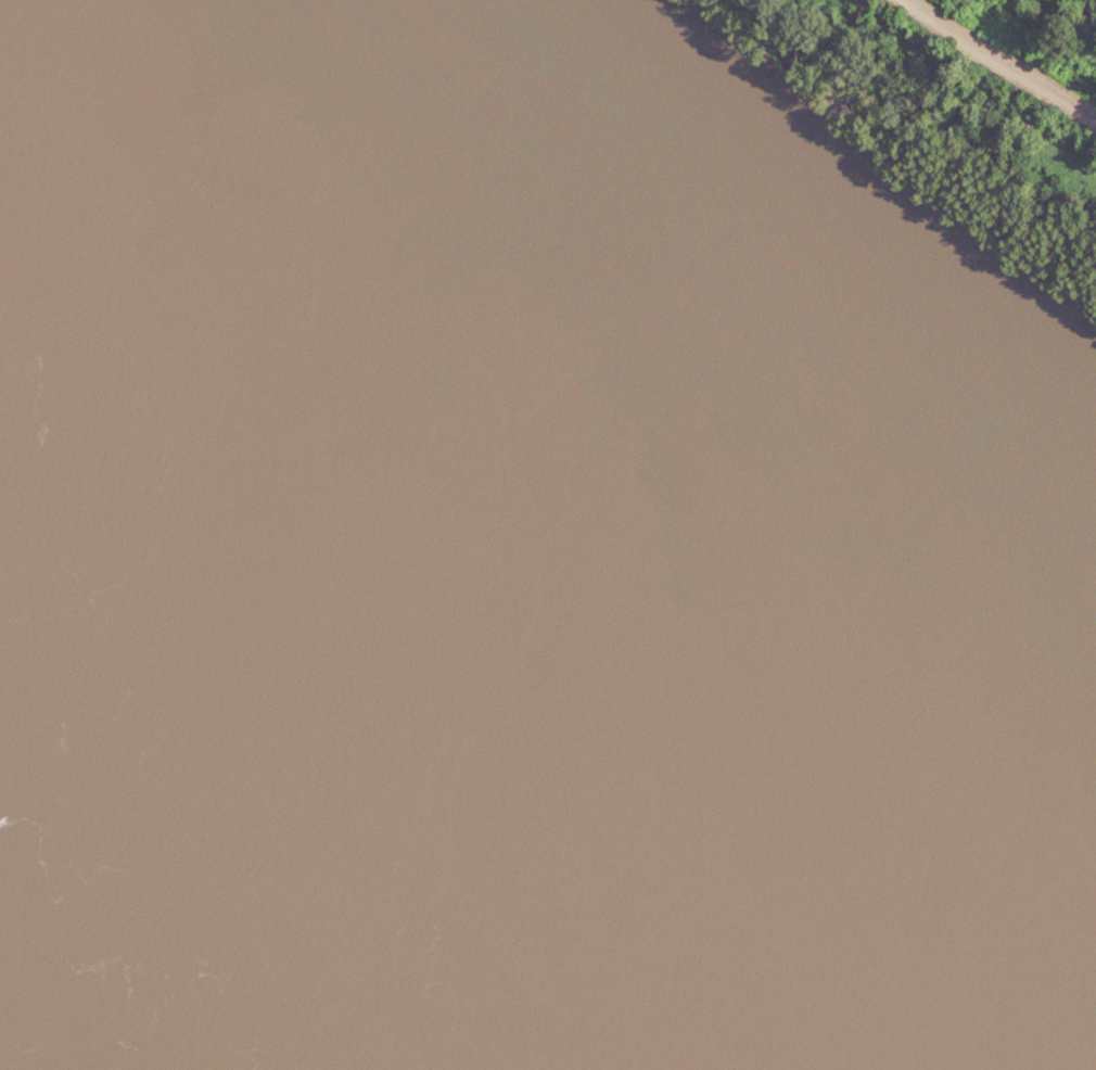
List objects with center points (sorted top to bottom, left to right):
river: (220, 818)

